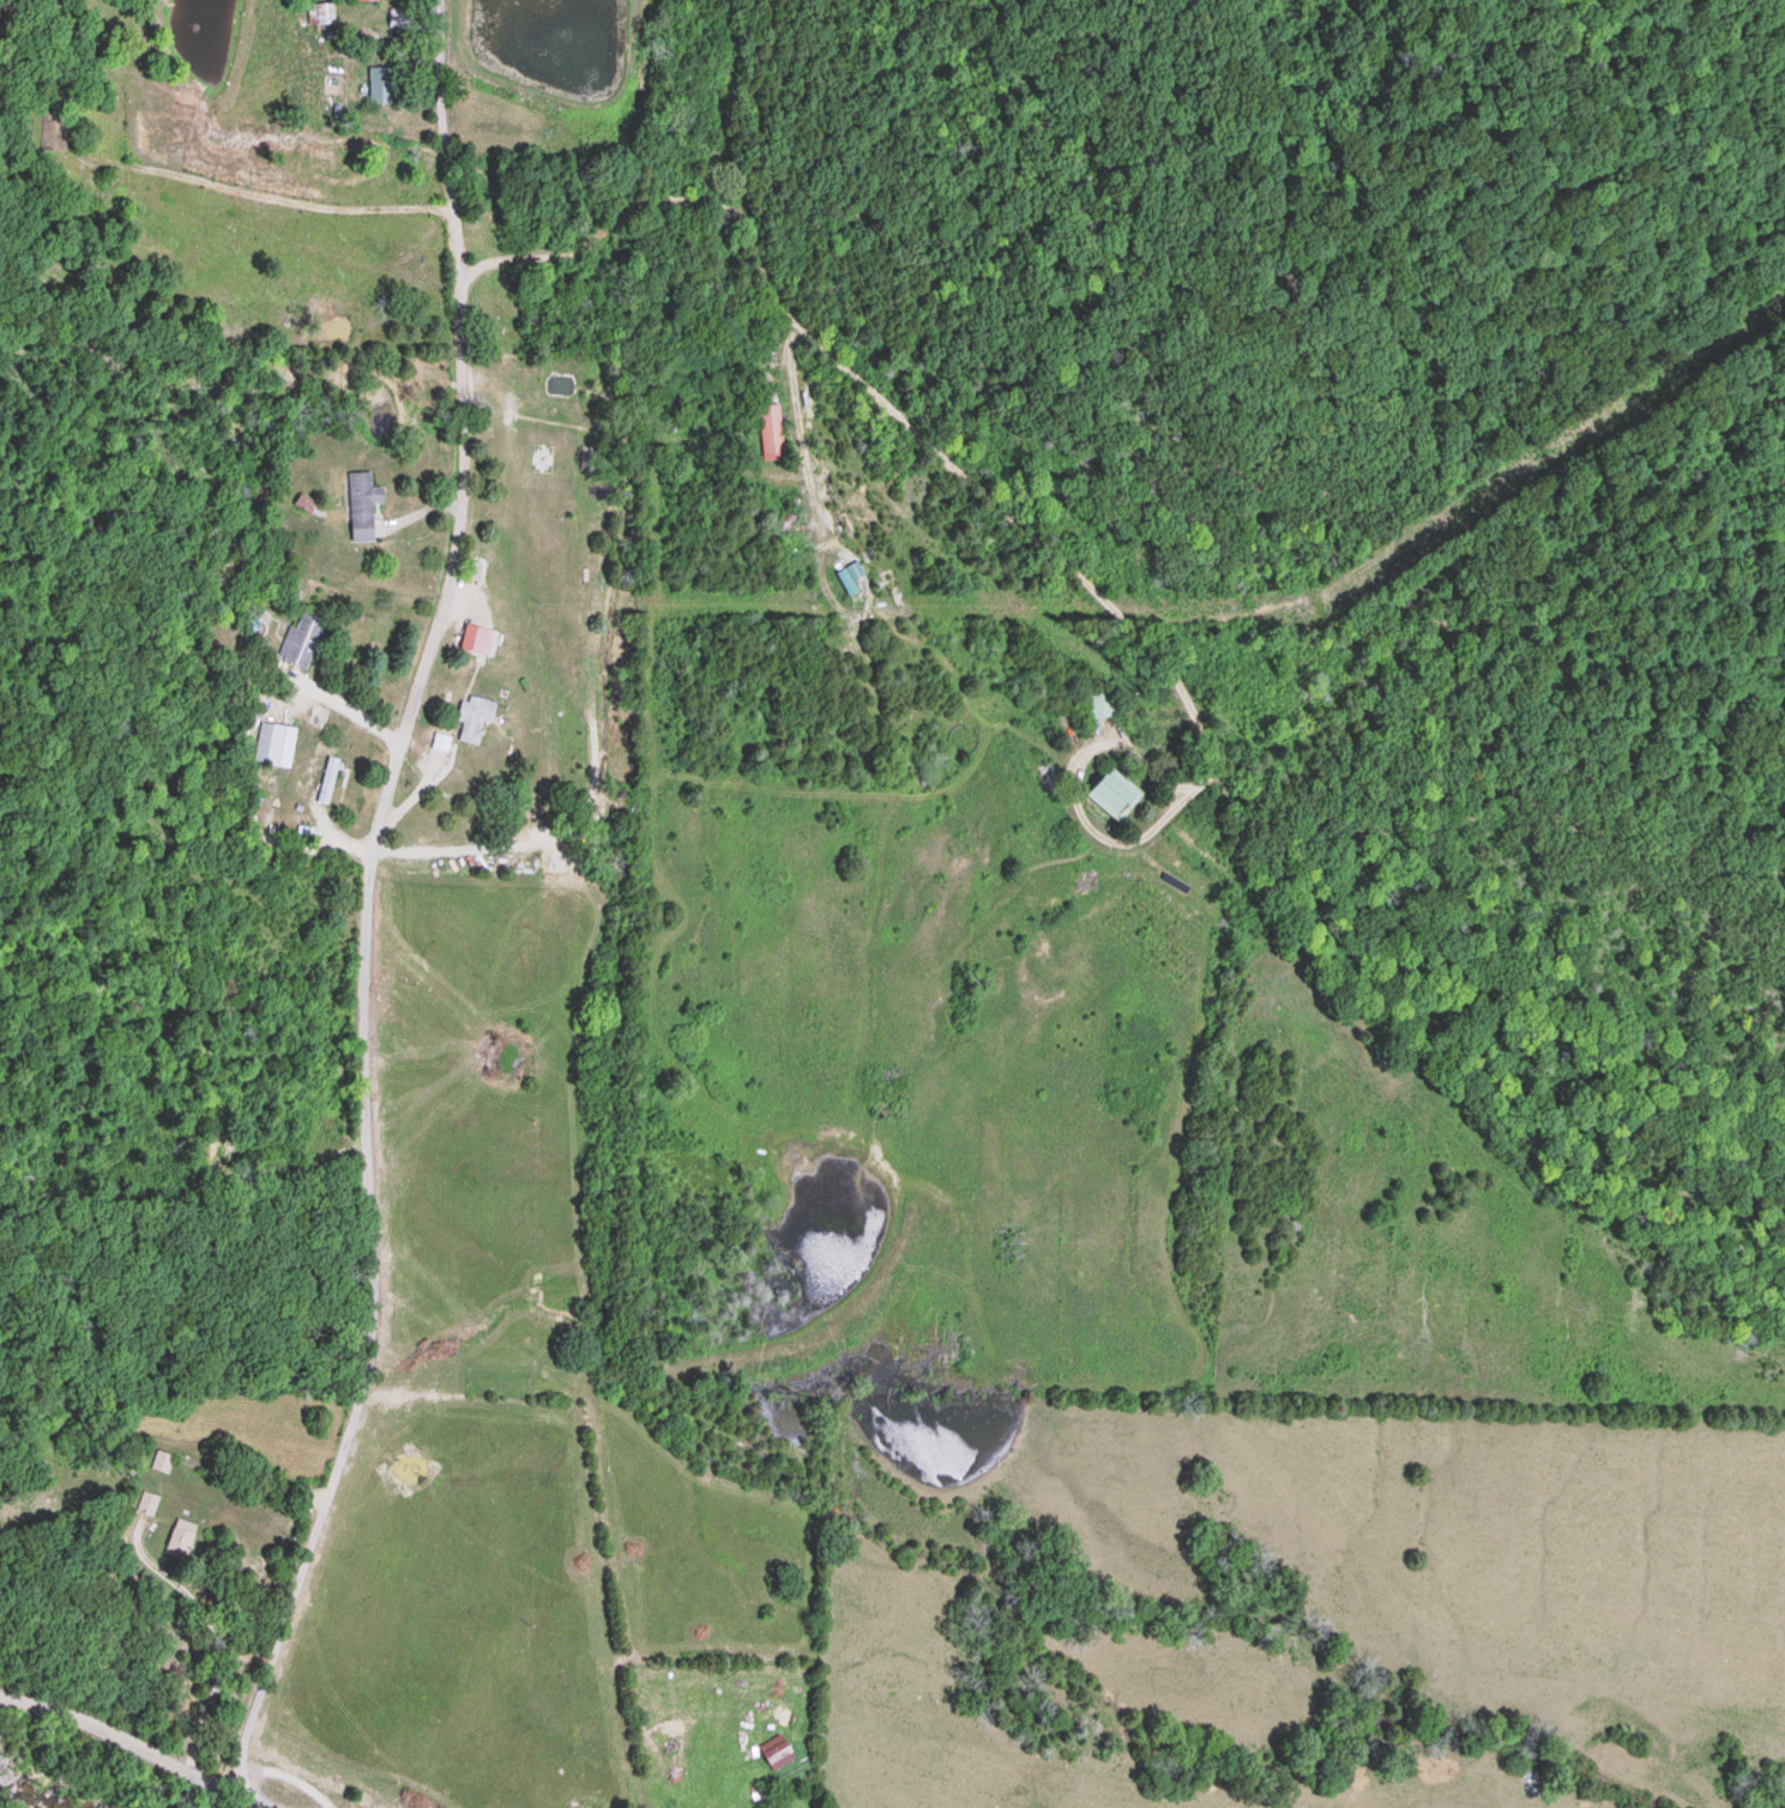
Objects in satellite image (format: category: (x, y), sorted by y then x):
building: (358, 0)
building: (321, 13)
building: (380, 84)
building: (54, 129)
road: (593, 131)
road: (783, 326)
building: (771, 432)
building: (304, 504)
building: (363, 505)
building: (302, 639)
building: (477, 639)
building: (1102, 705)
building: (475, 717)
building: (281, 745)
building: (328, 779)
building: (1115, 792)
road: (328, 986)
building: (162, 1462)
building: (147, 1503)
building: (180, 1543)
road: (117, 1761)
road: (257, 1798)

